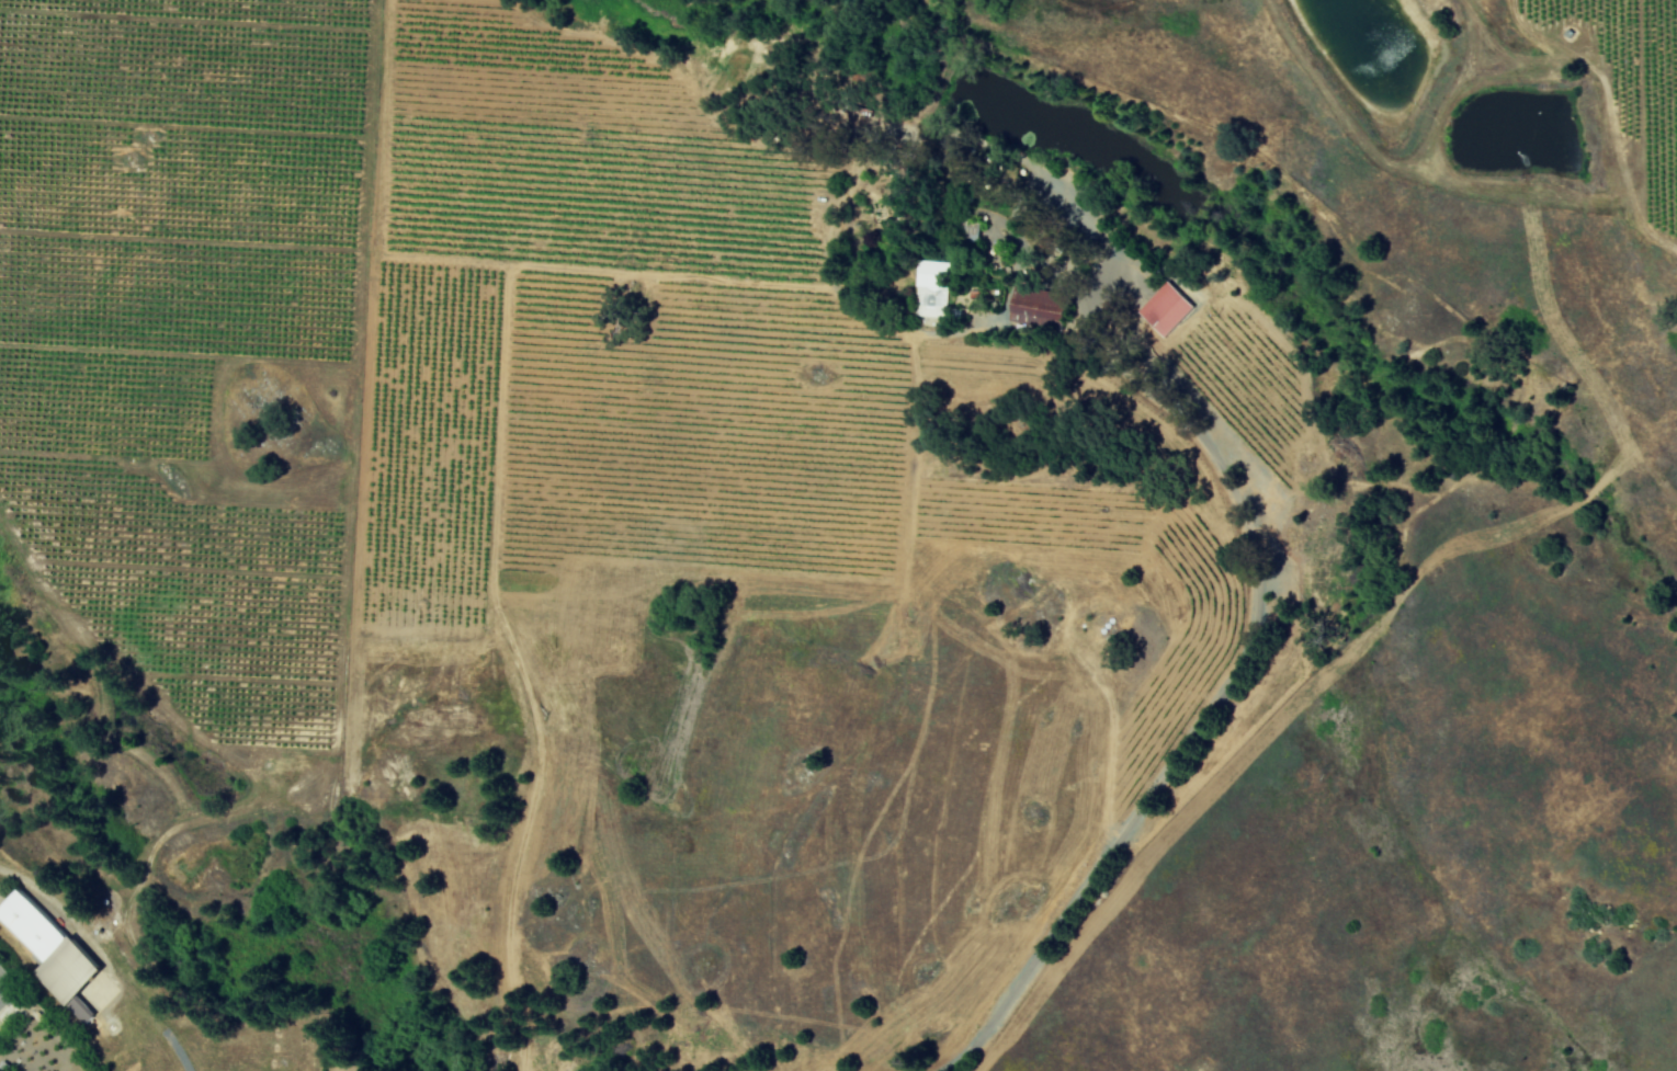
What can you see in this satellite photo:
building: (972, 230)
building: (931, 288)
building: (1036, 307)
building: (1166, 308)
road: (1224, 685)
road: (111, 948)
building: (52, 955)

